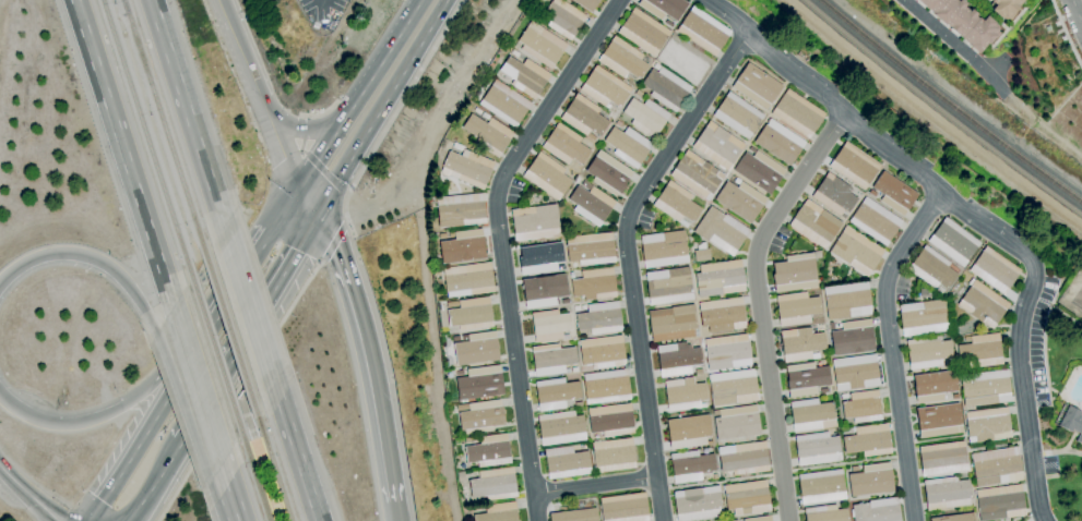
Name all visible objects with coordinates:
building: (586, 4)
railway: (126, 7)
building: (664, 8)
building: (1004, 8)
road: (1077, 11)
road: (725, 15)
building: (562, 19)
building: (962, 23)
building: (668, 24)
building: (643, 32)
building: (703, 32)
road: (1066, 33)
road: (951, 41)
building: (540, 45)
building: (514, 53)
building: (622, 59)
building: (683, 59)
building: (525, 76)
building: (757, 86)
building: (604, 88)
building: (665, 88)
road: (358, 92)
building: (638, 94)
building: (504, 104)
road: (382, 105)
railway: (949, 105)
road: (264, 106)
road: (394, 109)
building: (477, 111)
railway: (940, 111)
road: (187, 112)
road: (319, 113)
building: (797, 114)
building: (737, 116)
building: (485, 117)
building: (583, 117)
building: (645, 117)
railway: (166, 125)
road: (309, 129)
building: (488, 134)
railway: (148, 137)
building: (778, 142)
building: (627, 145)
building: (564, 146)
building: (717, 146)
building: (457, 147)
building: (751, 150)
road: (122, 153)
road: (310, 160)
building: (854, 166)
building: (467, 168)
building: (760, 171)
building: (608, 173)
building: (546, 175)
building: (697, 175)
traffic signals: (299, 184)
parking lot: (512, 191)
building: (871, 193)
building: (894, 194)
building: (834, 195)
building: (740, 201)
building: (591, 204)
building: (676, 204)
road: (286, 208)
traffic signals: (318, 208)
building: (460, 211)
parking lot: (643, 218)
building: (875, 221)
building: (534, 222)
building: (815, 223)
building: (721, 230)
road: (989, 230)
parking lot: (777, 240)
building: (953, 242)
road: (333, 243)
road: (498, 243)
building: (462, 247)
building: (591, 249)
building: (664, 250)
building: (856, 251)
building: (701, 255)
road: (91, 256)
building: (539, 257)
road: (626, 258)
building: (560, 267)
building: (931, 268)
building: (994, 270)
building: (436, 271)
building: (794, 276)
building: (720, 279)
building: (467, 280)
building: (594, 284)
building: (669, 287)
parking lot: (901, 287)
building: (543, 290)
building: (939, 290)
building: (924, 293)
road: (235, 294)
park: (1072, 298)
road: (1038, 300)
building: (846, 301)
road: (247, 302)
road: (759, 304)
building: (982, 304)
building: (796, 308)
road: (1060, 312)
building: (469, 314)
building: (722, 315)
building: (924, 317)
building: (598, 318)
building: (673, 324)
road: (249, 325)
building: (549, 326)
railway: (229, 331)
building: (852, 338)
building: (455, 339)
parking lot: (1038, 339)
building: (801, 344)
building: (476, 349)
road: (890, 350)
road: (368, 352)
building: (602, 352)
building: (727, 352)
building: (927, 352)
building: (979, 352)
railway: (214, 354)
road: (1044, 358)
building: (551, 359)
building: (677, 359)
building: (574, 369)
building: (698, 372)
building: (457, 373)
building: (855, 373)
road: (156, 378)
building: (806, 379)
building: (479, 383)
road: (197, 384)
building: (934, 386)
building: (605, 387)
building: (733, 387)
building: (985, 388)
road: (1034, 390)
road: (239, 391)
building: (555, 393)
building: (685, 395)
building: (954, 397)
road: (1048, 397)
building: (578, 403)
road: (1071, 403)
road: (181, 405)
building: (861, 407)
road: (160, 413)
building: (811, 414)
building: (479, 416)
building: (610, 420)
building: (939, 421)
building: (1072, 422)
building: (736, 423)
building: (987, 425)
building: (561, 428)
building: (688, 432)
road: (1068, 439)
building: (467, 440)
building: (867, 440)
building: (817, 449)
road: (294, 450)
building: (489, 451)
road: (1056, 451)
building: (613, 456)
building: (744, 459)
building: (942, 459)
building: (567, 462)
railway: (273, 464)
road: (262, 465)
parking lot: (1048, 465)
building: (690, 467)
building: (996, 467)
railway: (253, 476)
building: (460, 476)
building: (871, 480)
road: (156, 481)
building: (494, 484)
road: (594, 484)
building: (820, 487)
railway: (273, 490)
road: (231, 492)
building: (946, 493)
road: (29, 494)
road: (107, 495)
building: (747, 497)
building: (1000, 502)
building: (697, 504)
building: (476, 508)
building: (625, 508)
building: (877, 510)
road: (394, 511)
building: (498, 512)
building: (825, 513)
building: (574, 516)
building: (955, 518)
building: (758, 519)

